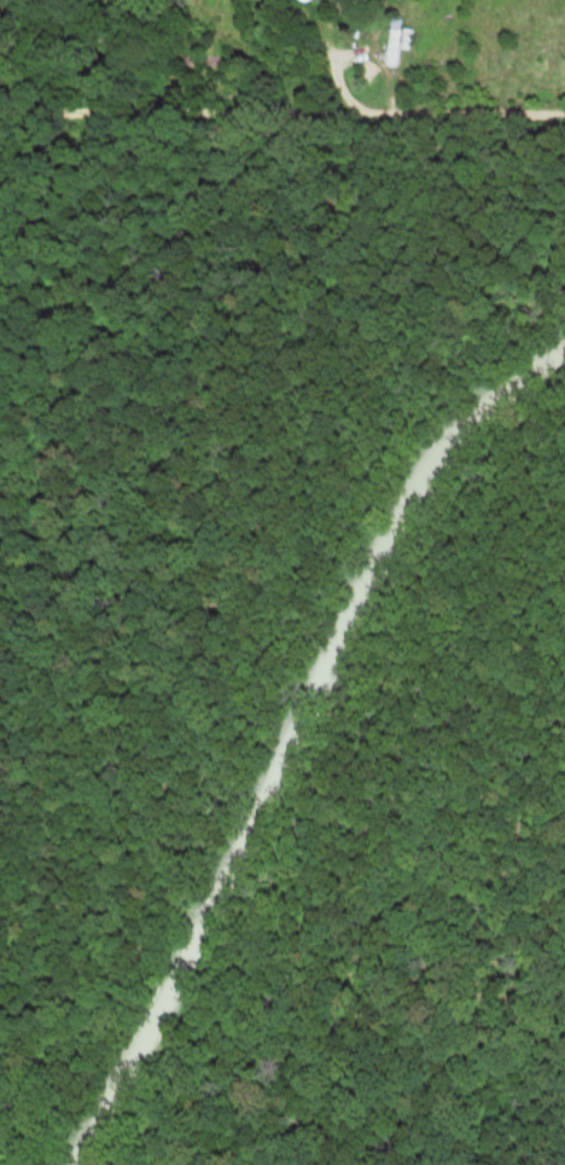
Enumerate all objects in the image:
building: (396, 42)
building: (198, 62)
road: (282, 145)
road: (307, 766)

